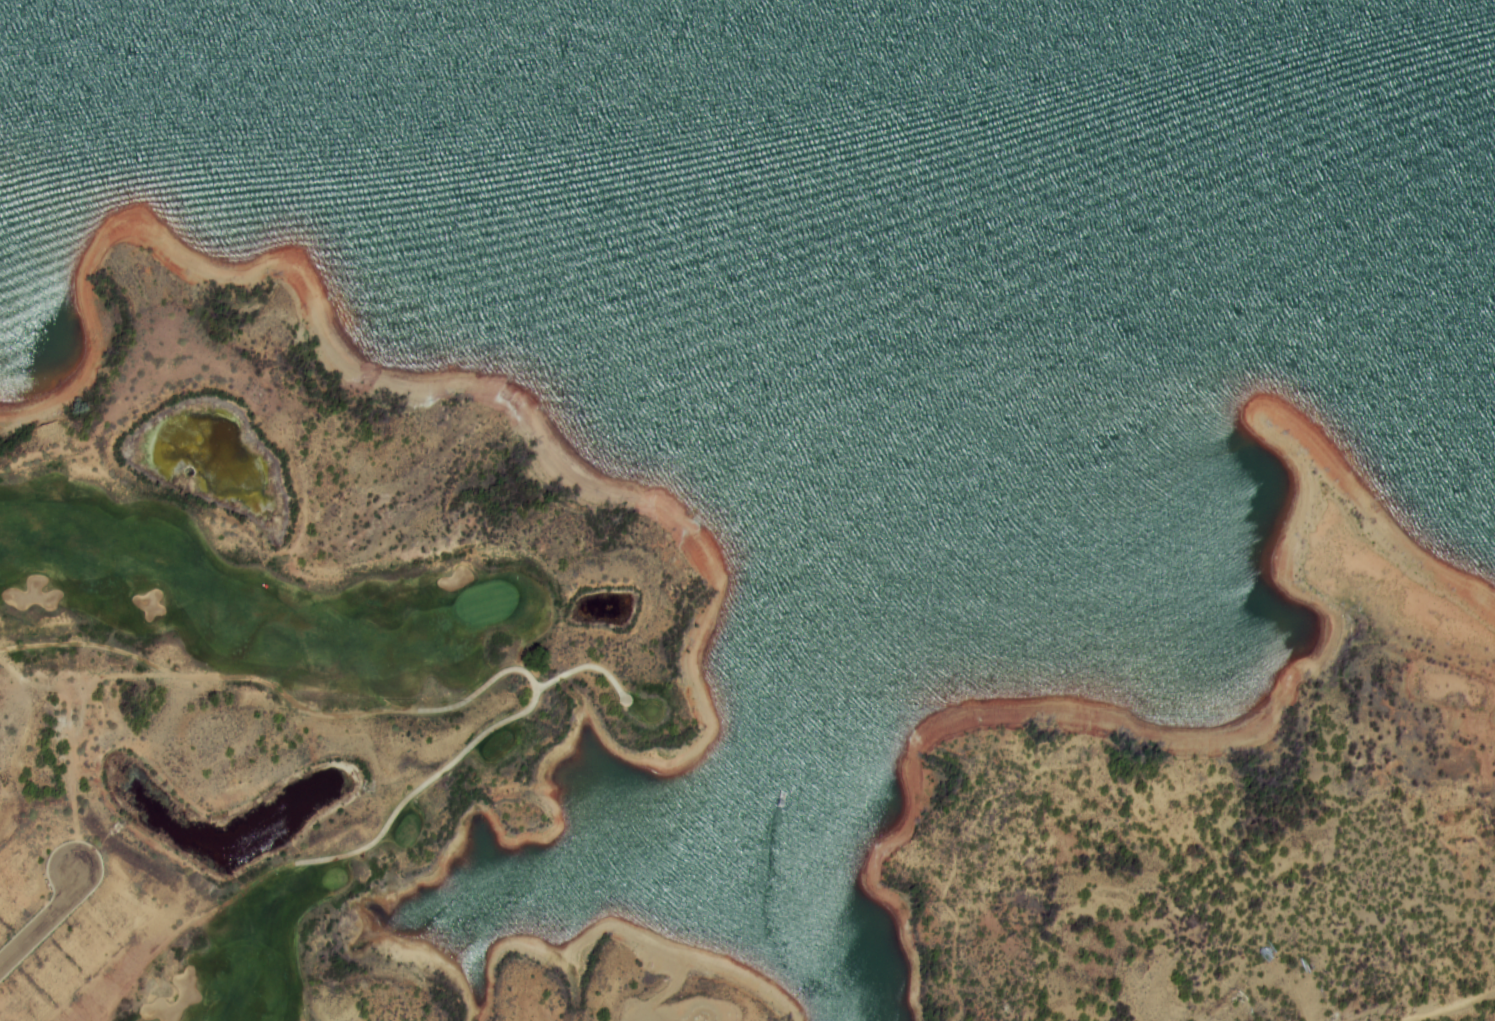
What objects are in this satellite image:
road: (583, 667)
road: (532, 684)
park: (246, 723)
road: (40, 923)

